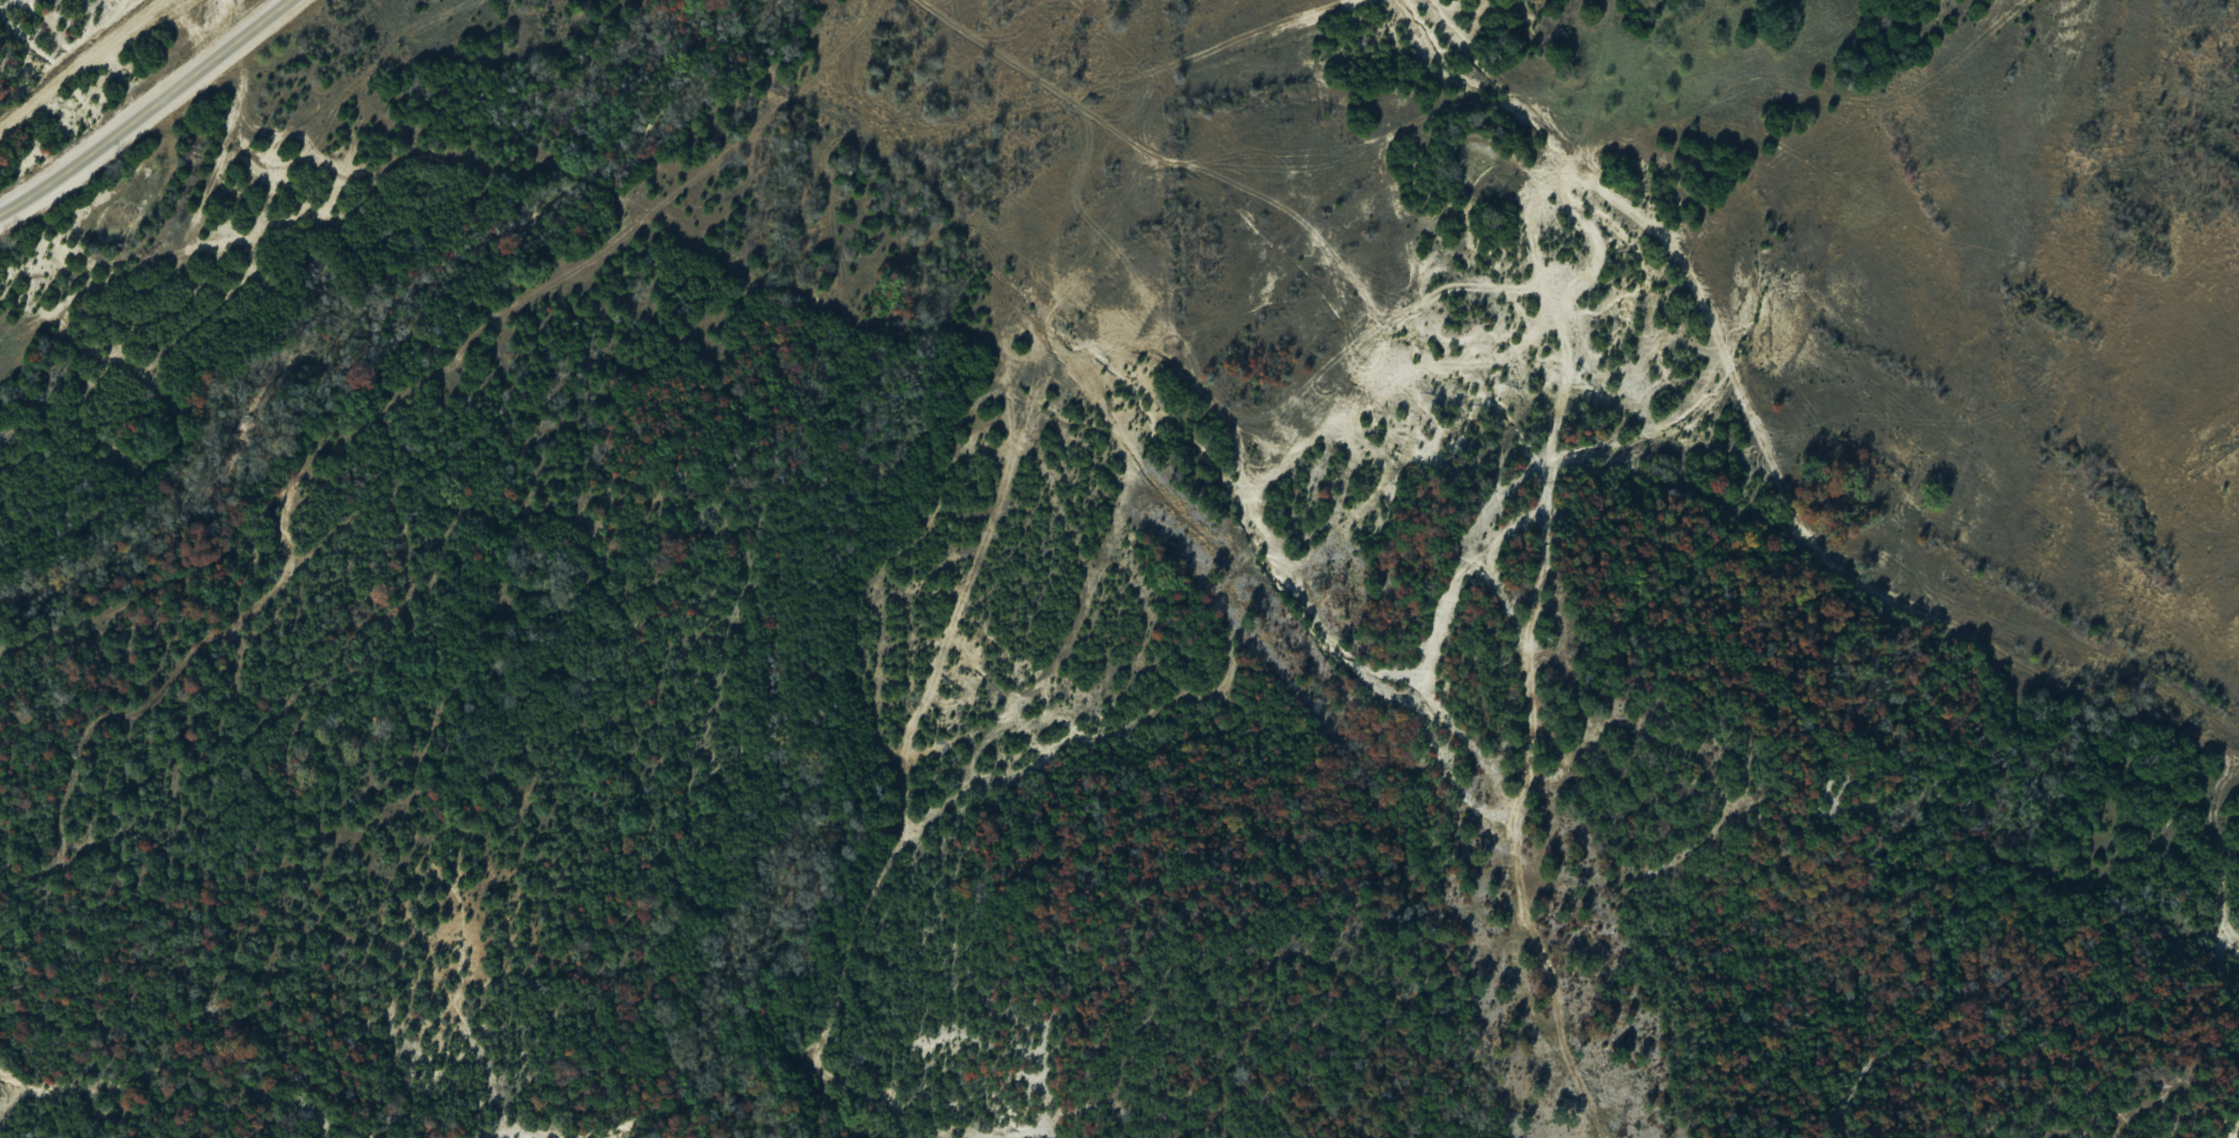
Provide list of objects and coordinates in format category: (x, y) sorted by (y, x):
road: (234, 20)
road: (265, 20)
road: (82, 66)
road: (120, 130)

